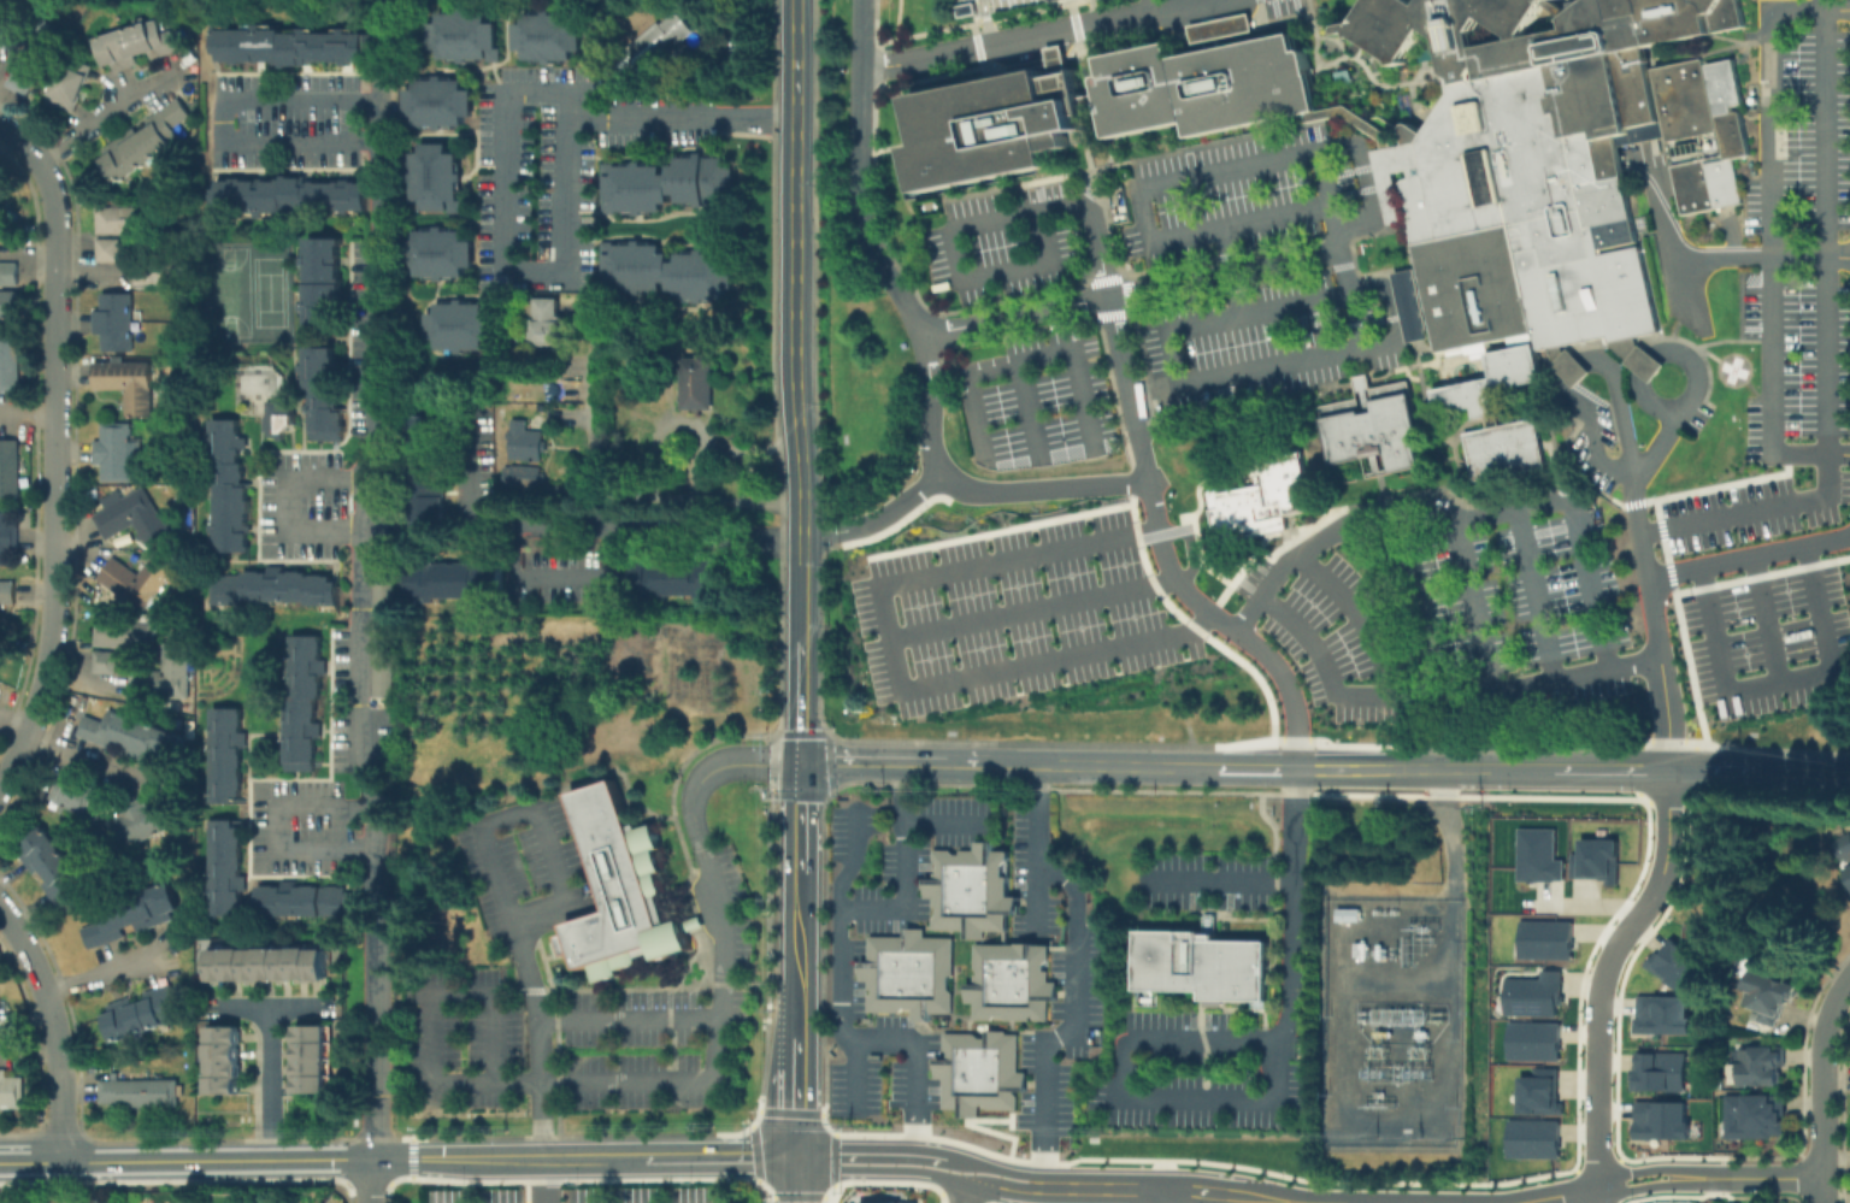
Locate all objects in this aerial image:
building: (562, 0)
building: (982, 5)
parking lot: (982, 5)
road: (1154, 5)
parking lot: (1282, 6)
road: (1092, 11)
road: (985, 22)
building: (1218, 29)
building: (7, 34)
road: (1035, 35)
building: (467, 36)
building: (549, 36)
building: (661, 41)
building: (132, 43)
building: (296, 46)
building: (24, 66)
fountain: (1424, 75)
building: (66, 85)
building: (1203, 85)
fountain: (1375, 88)
building: (1089, 99)
building: (441, 101)
road: (683, 114)
parking lot: (291, 120)
building: (1353, 120)
road: (95, 125)
building: (990, 126)
building: (147, 141)
road: (220, 143)
building: (1550, 161)
parking lot: (558, 163)
road: (378, 171)
building: (437, 177)
road: (861, 177)
building: (702, 179)
road: (1366, 181)
building: (636, 188)
building: (288, 191)
road: (1768, 196)
parking lot: (1220, 197)
road: (54, 208)
road: (1663, 212)
road: (1141, 216)
building: (118, 219)
road: (1332, 219)
parking lot: (1001, 242)
building: (106, 249)
building: (441, 253)
road: (960, 253)
road: (1102, 254)
road: (1721, 256)
building: (635, 266)
road: (793, 267)
road: (573, 270)
building: (7, 273)
building: (702, 276)
road: (1225, 276)
building: (324, 284)
building: (1410, 303)
building: (7, 305)
road: (1018, 319)
building: (547, 323)
building: (117, 324)
building: (461, 325)
road: (1062, 332)
parking lot: (1249, 341)
road: (1119, 343)
road: (1824, 343)
road: (1662, 352)
building: (7, 358)
road: (1026, 362)
building: (1566, 364)
helipad: (1733, 368)
road: (1574, 372)
road: (1210, 378)
building: (702, 383)
building: (1490, 383)
building: (131, 385)
road: (1142, 385)
building: (326, 395)
parking lot: (1038, 400)
parking lot: (1780, 406)
road: (933, 407)
road: (1031, 412)
building: (279, 417)
parking lot: (1696, 419)
building: (1372, 424)
road: (1137, 435)
building: (525, 442)
parking lot: (1592, 446)
building: (1504, 449)
road: (1809, 453)
building: (116, 454)
building: (7, 465)
building: (429, 471)
building: (524, 476)
road: (1632, 476)
road: (1041, 490)
building: (231, 491)
road: (628, 495)
road: (465, 496)
building: (1269, 499)
road: (285, 501)
parking lot: (301, 505)
building: (134, 518)
road: (1465, 518)
road: (874, 521)
building: (7, 541)
road: (54, 553)
road: (1749, 558)
road: (611, 571)
parking lot: (552, 577)
building: (676, 578)
building: (140, 582)
building: (455, 582)
road: (800, 585)
road: (1649, 585)
building: (278, 591)
building: (384, 591)
building: (8, 594)
road: (1537, 595)
road: (1416, 602)
road: (1477, 606)
road: (1032, 608)
parking lot: (1017, 612)
road: (1359, 617)
parking lot: (1460, 618)
road: (1768, 619)
road: (1229, 625)
building: (122, 632)
road: (895, 660)
building: (101, 661)
building: (383, 665)
road: (372, 678)
road: (1781, 680)
road: (1438, 695)
parking lot: (360, 696)
road: (801, 701)
building: (304, 704)
road: (13, 726)
building: (132, 741)
road: (77, 755)
building: (229, 759)
road: (886, 763)
traffic signals: (801, 766)
road: (1320, 772)
road: (1757, 776)
building: (71, 795)
road: (800, 818)
road: (944, 820)
building: (136, 824)
road: (276, 826)
parking lot: (300, 828)
road: (482, 832)
building: (1843, 850)
road: (1445, 853)
road: (855, 856)
building: (1536, 856)
building: (1592, 860)
building: (52, 867)
parking lot: (523, 867)
building: (228, 871)
parking lot: (1207, 880)
road: (1216, 881)
building: (970, 889)
building: (625, 892)
road: (1036, 902)
building: (307, 903)
building: (1349, 915)
building: (134, 918)
road: (814, 924)
building: (1543, 938)
parking lot: (848, 949)
road: (799, 953)
road: (839, 959)
building: (1672, 963)
building: (270, 966)
building: (1204, 966)
road: (1076, 969)
road: (1603, 969)
building: (908, 972)
parking lot: (1054, 972)
building: (1011, 980)
road: (79, 983)
building: (1527, 995)
building: (1772, 998)
road: (271, 1009)
building: (1, 1014)
building: (143, 1014)
building: (1661, 1015)
parking lot: (664, 1018)
road: (715, 1021)
power substation: (1391, 1022)
road: (55, 1028)
parking lot: (458, 1036)
road: (1197, 1038)
building: (1530, 1040)
building: (316, 1060)
building: (224, 1063)
building: (1761, 1068)
building: (979, 1071)
parking lot: (1191, 1071)
building: (1658, 1072)
road: (854, 1077)
road: (631, 1080)
road: (495, 1081)
road: (272, 1084)
road: (1824, 1087)
building: (12, 1093)
building: (142, 1093)
building: (1538, 1093)
road: (799, 1096)
building: (1761, 1116)
building: (1660, 1121)
building: (1531, 1139)
road: (752, 1152)
road: (870, 1152)
road: (664, 1154)
road: (1620, 1154)
traffic signals: (799, 1156)
road: (310, 1157)
road: (760, 1166)
road: (994, 1168)
road: (1649, 1169)
road: (830, 1172)
road: (920, 1174)
road: (1763, 1177)
road: (587, 1179)
road: (799, 1179)
road: (373, 1180)
road: (1649, 1186)
road: (764, 1190)
road: (1195, 1190)
park: (584, 1191)
road: (796, 1192)
road: (1597, 1192)
parking lot: (593, 1193)
road: (964, 1193)
road: (1557, 1193)
road: (1163, 1195)
road: (830, 1198)
building: (889, 1202)

